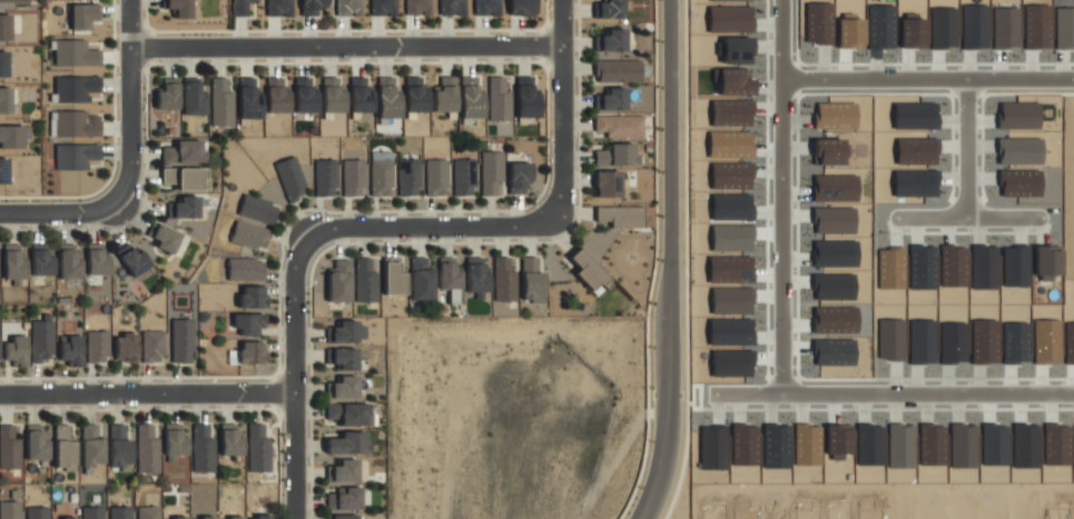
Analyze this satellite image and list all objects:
building: (13, 0)
building: (239, 7)
building: (311, 7)
building: (416, 7)
building: (451, 7)
building: (485, 7)
building: (520, 7)
building: (178, 8)
building: (278, 8)
building: (382, 8)
building: (609, 9)
building: (82, 14)
building: (4, 27)
building: (611, 40)
road: (344, 48)
building: (2, 63)
building: (617, 70)
road: (926, 76)
building: (76, 88)
building: (304, 94)
building: (332, 94)
building: (359, 94)
building: (414, 94)
building: (276, 96)
building: (525, 97)
building: (167, 98)
building: (386, 98)
building: (470, 98)
building: (4, 99)
building: (248, 99)
building: (444, 99)
building: (496, 99)
building: (611, 99)
building: (193, 100)
building: (221, 102)
road: (129, 103)
road: (560, 109)
building: (75, 123)
building: (618, 124)
building: (10, 136)
road: (967, 148)
building: (183, 153)
building: (615, 154)
building: (75, 156)
building: (2, 171)
building: (490, 171)
building: (463, 176)
building: (518, 176)
building: (436, 177)
building: (353, 178)
building: (380, 178)
building: (407, 178)
building: (185, 179)
building: (325, 179)
building: (290, 180)
building: (605, 183)
road: (782, 198)
building: (181, 208)
building: (257, 210)
road: (58, 212)
building: (618, 216)
road: (967, 219)
road: (431, 228)
building: (249, 236)
building: (164, 240)
building: (134, 261)
road: (669, 261)
building: (40, 262)
building: (96, 262)
road: (652, 262)
building: (69, 265)
building: (13, 266)
building: (244, 270)
building: (588, 271)
building: (447, 273)
building: (475, 277)
building: (392, 278)
building: (421, 279)
building: (364, 280)
building: (502, 280)
building: (531, 280)
building: (338, 281)
building: (252, 298)
building: (248, 326)
building: (343, 331)
building: (181, 341)
building: (41, 342)
building: (152, 347)
building: (97, 348)
building: (125, 349)
building: (14, 350)
building: (69, 351)
building: (250, 353)
building: (343, 357)
road: (293, 376)
building: (344, 387)
road: (146, 392)
road: (893, 393)
building: (348, 412)
building: (174, 442)
building: (230, 442)
building: (346, 442)
building: (37, 446)
building: (118, 446)
building: (9, 447)
building: (90, 447)
building: (63, 449)
building: (147, 450)
building: (201, 450)
building: (257, 450)
building: (344, 470)
building: (344, 498)
building: (9, 511)
building: (36, 512)
building: (92, 513)
building: (119, 513)
building: (148, 513)
building: (258, 517)
building: (343, 517)
building: (65, 518)
building: (175, 518)
building: (203, 518)
building: (230, 518)

